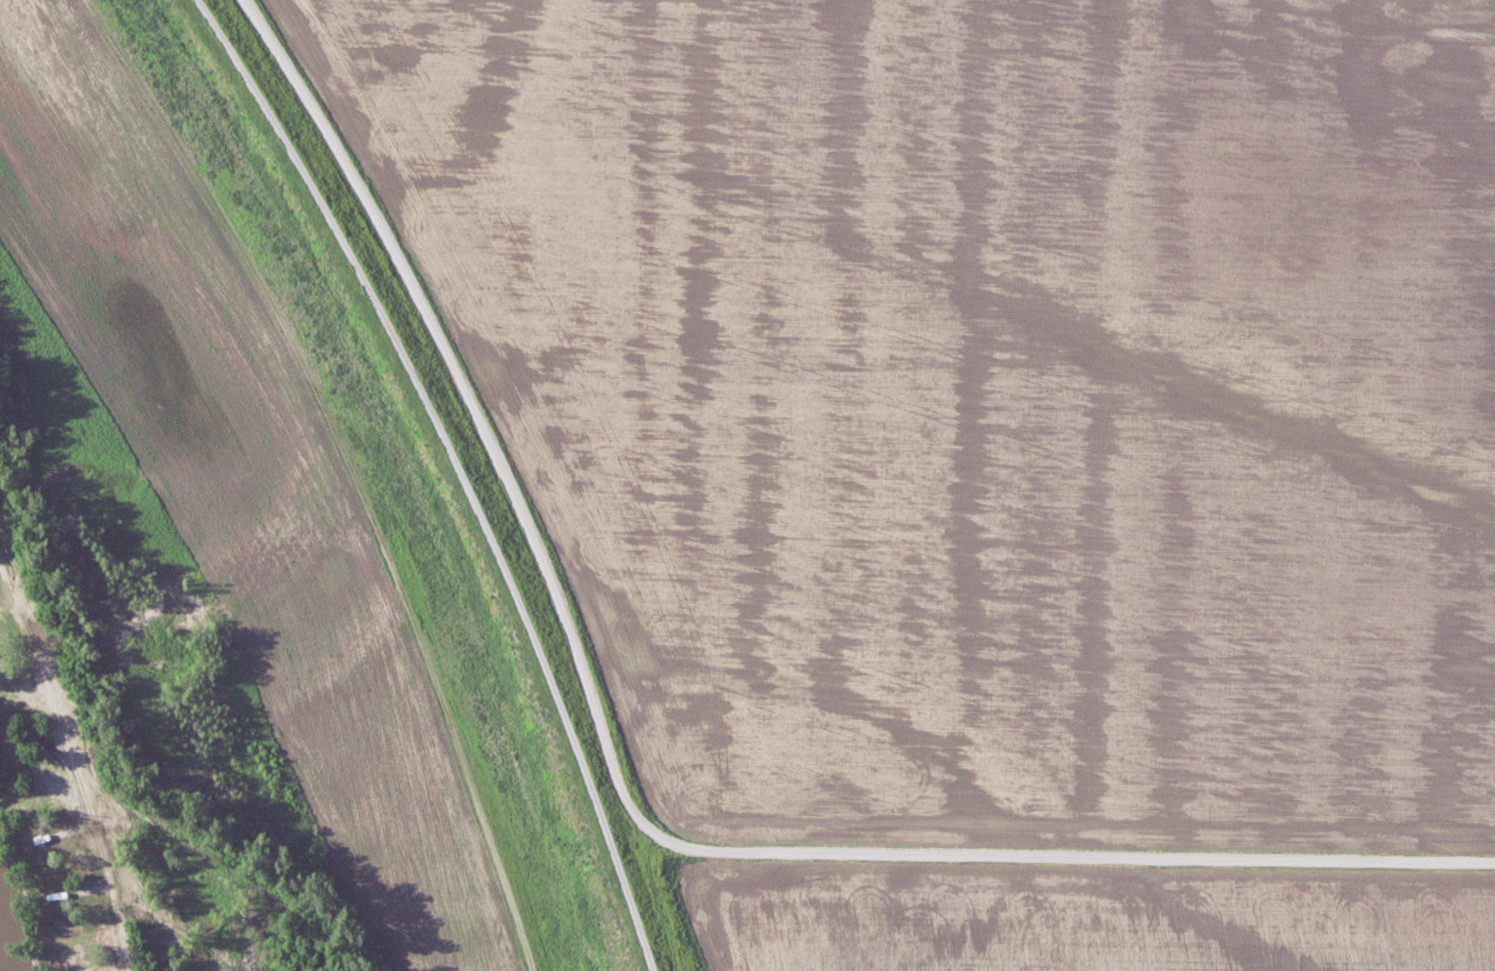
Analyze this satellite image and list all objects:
road: (459, 469)
road: (623, 803)

